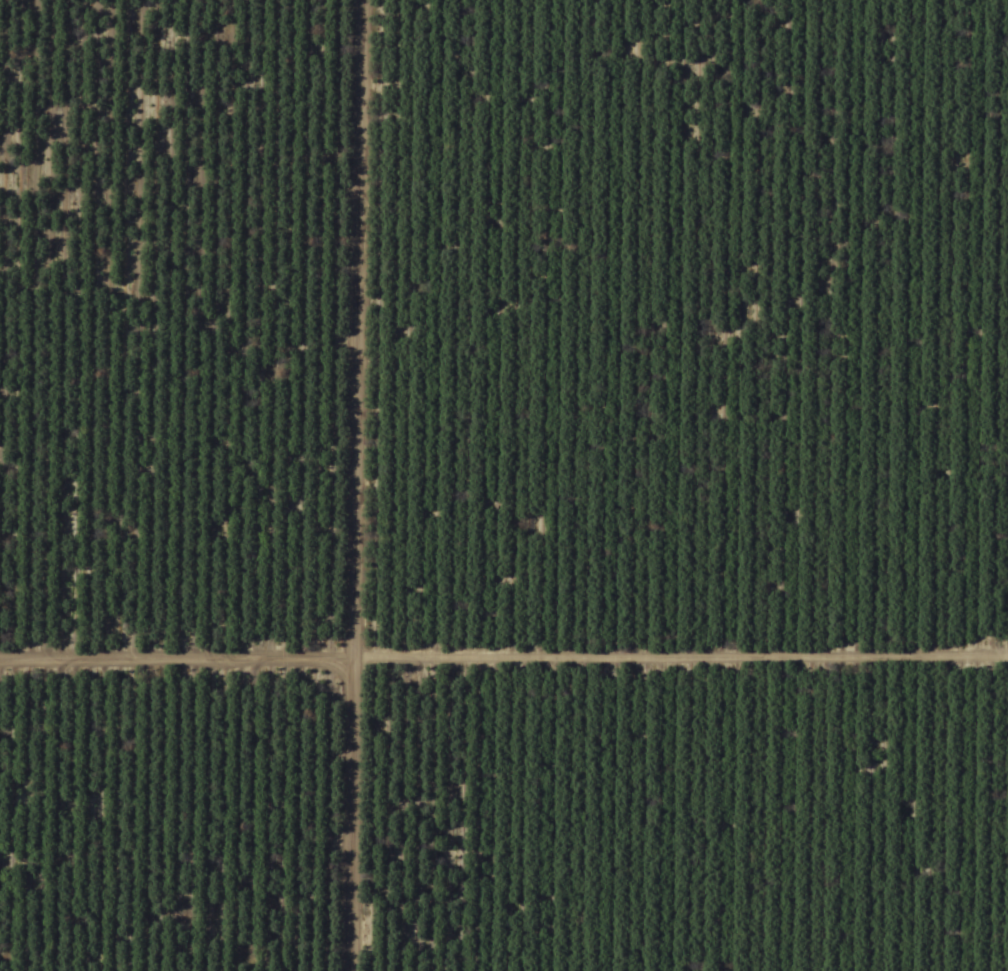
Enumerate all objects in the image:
crop: (504, 485)

